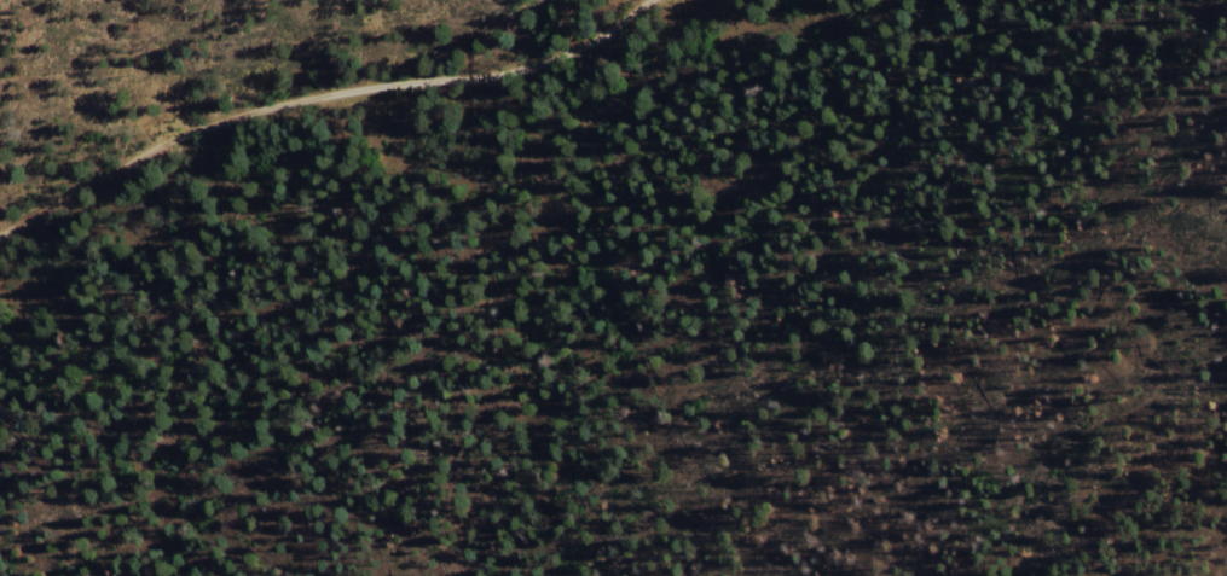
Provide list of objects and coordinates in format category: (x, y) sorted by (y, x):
road: (273, 95)

